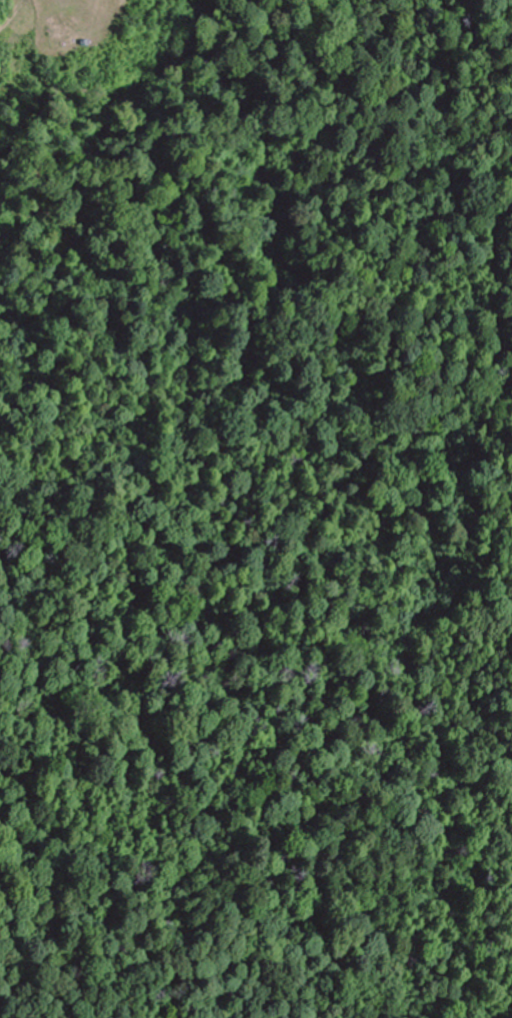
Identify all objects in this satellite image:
road: (28, 34)
road: (182, 1013)

